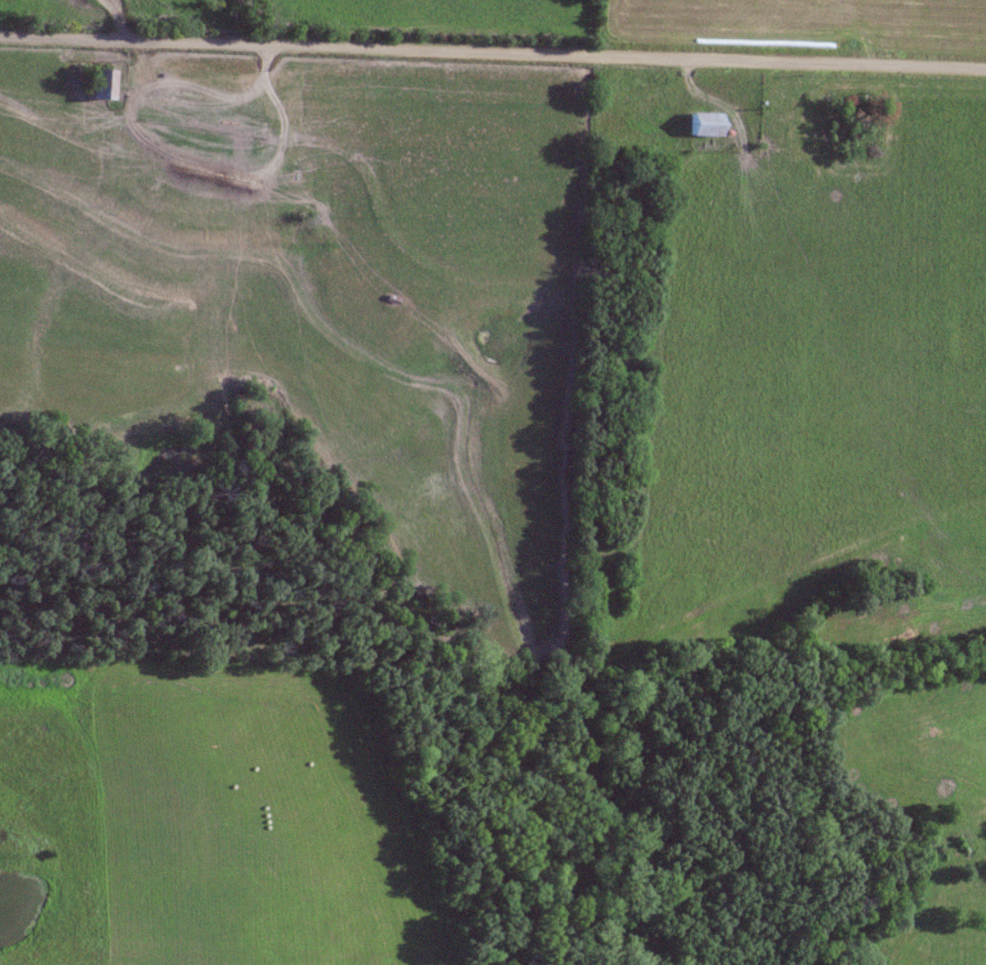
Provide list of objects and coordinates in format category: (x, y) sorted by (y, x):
road: (492, 50)
building: (102, 85)
building: (706, 125)

